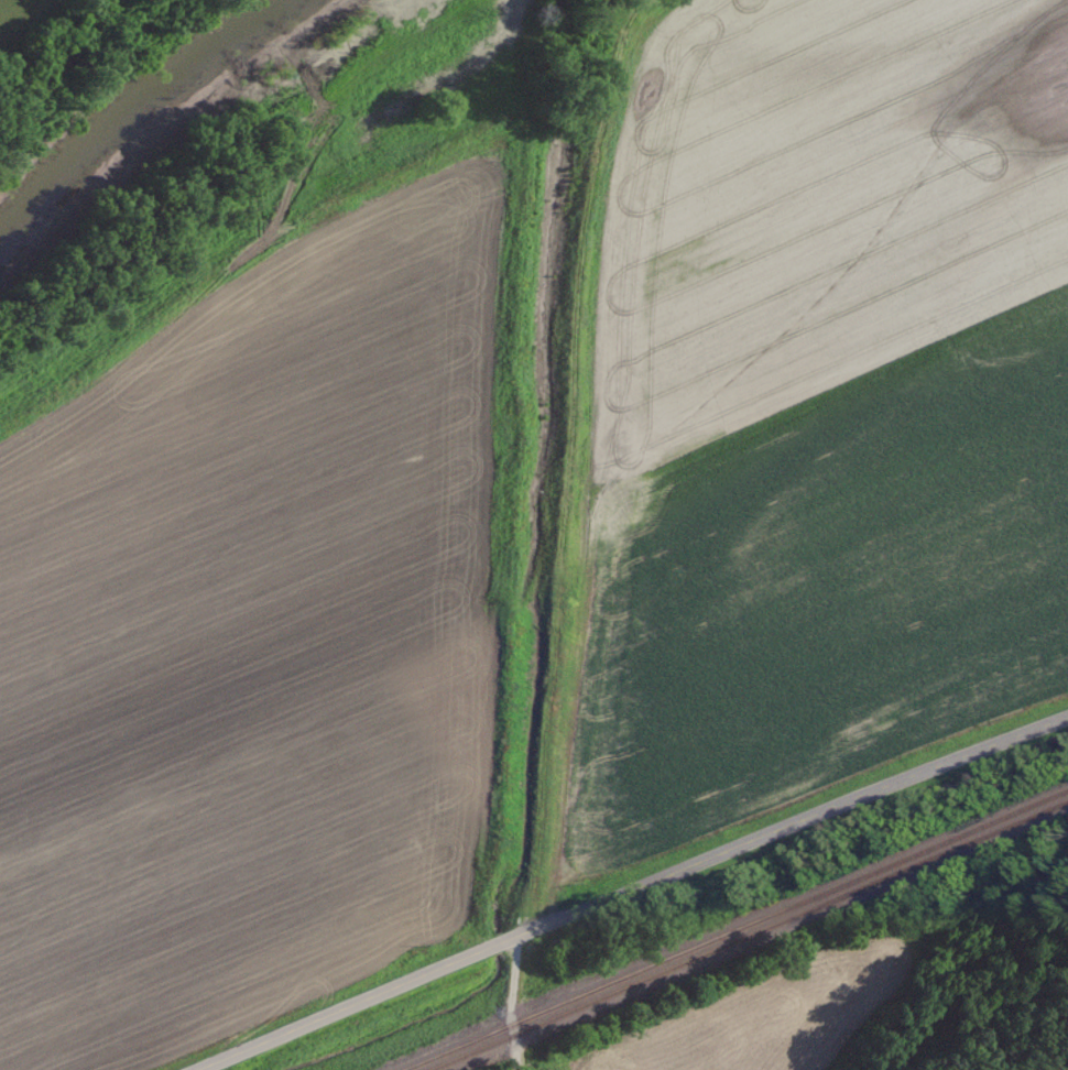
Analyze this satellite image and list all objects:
road: (632, 888)
railway: (735, 929)
railway: (751, 936)
road: (513, 1004)

